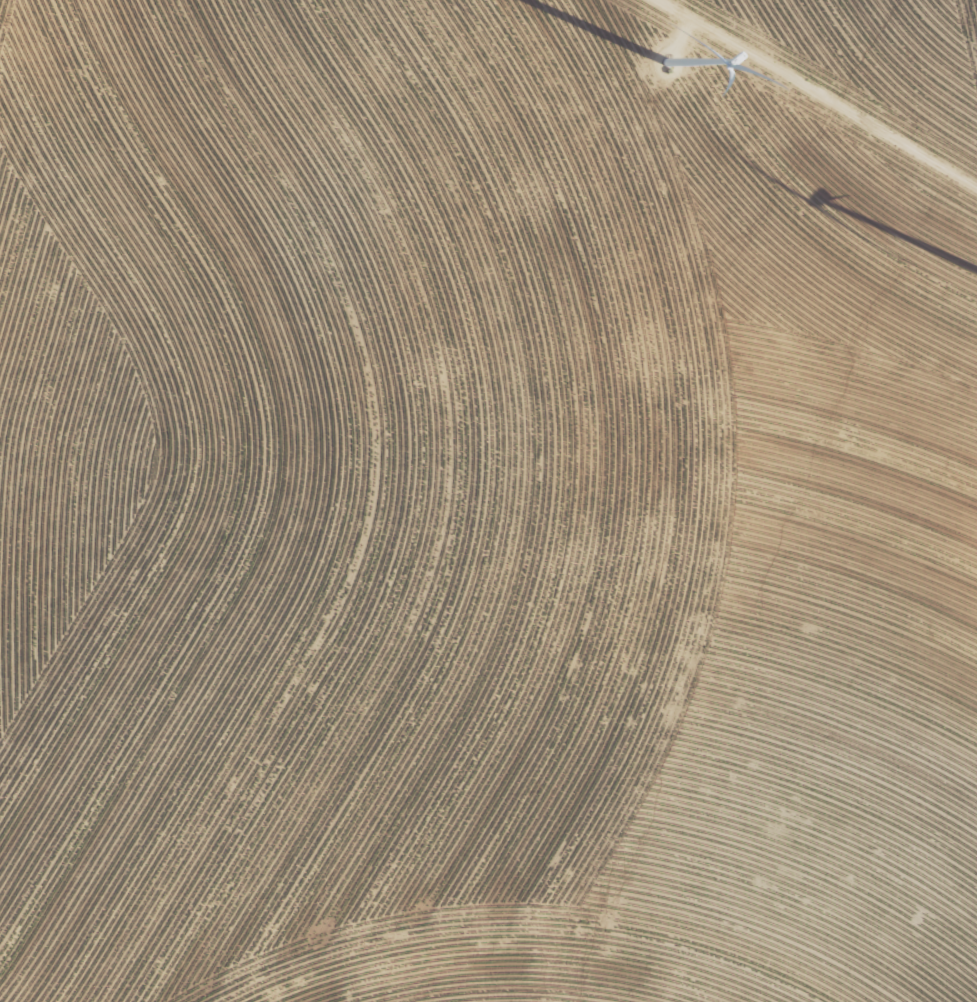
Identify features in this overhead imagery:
wind turbine: (666, 75)

